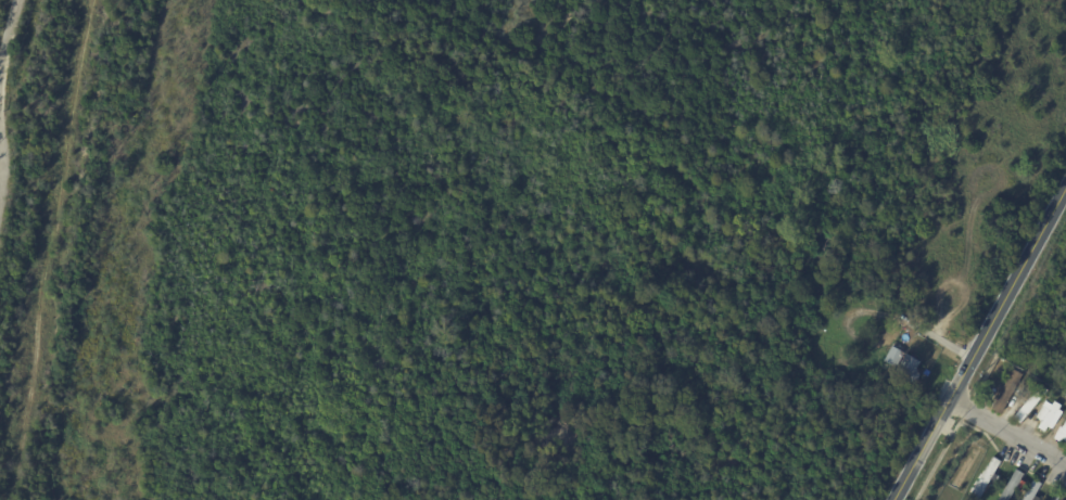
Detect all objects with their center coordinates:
road: (9, 39)
road: (3, 163)
road: (978, 341)
building: (891, 356)
building: (908, 368)
building: (1006, 390)
building: (1028, 405)
building: (1048, 416)
road: (1006, 431)
building: (1062, 434)
building: (983, 478)
building: (1011, 485)
building: (1031, 490)
building: (1054, 496)

